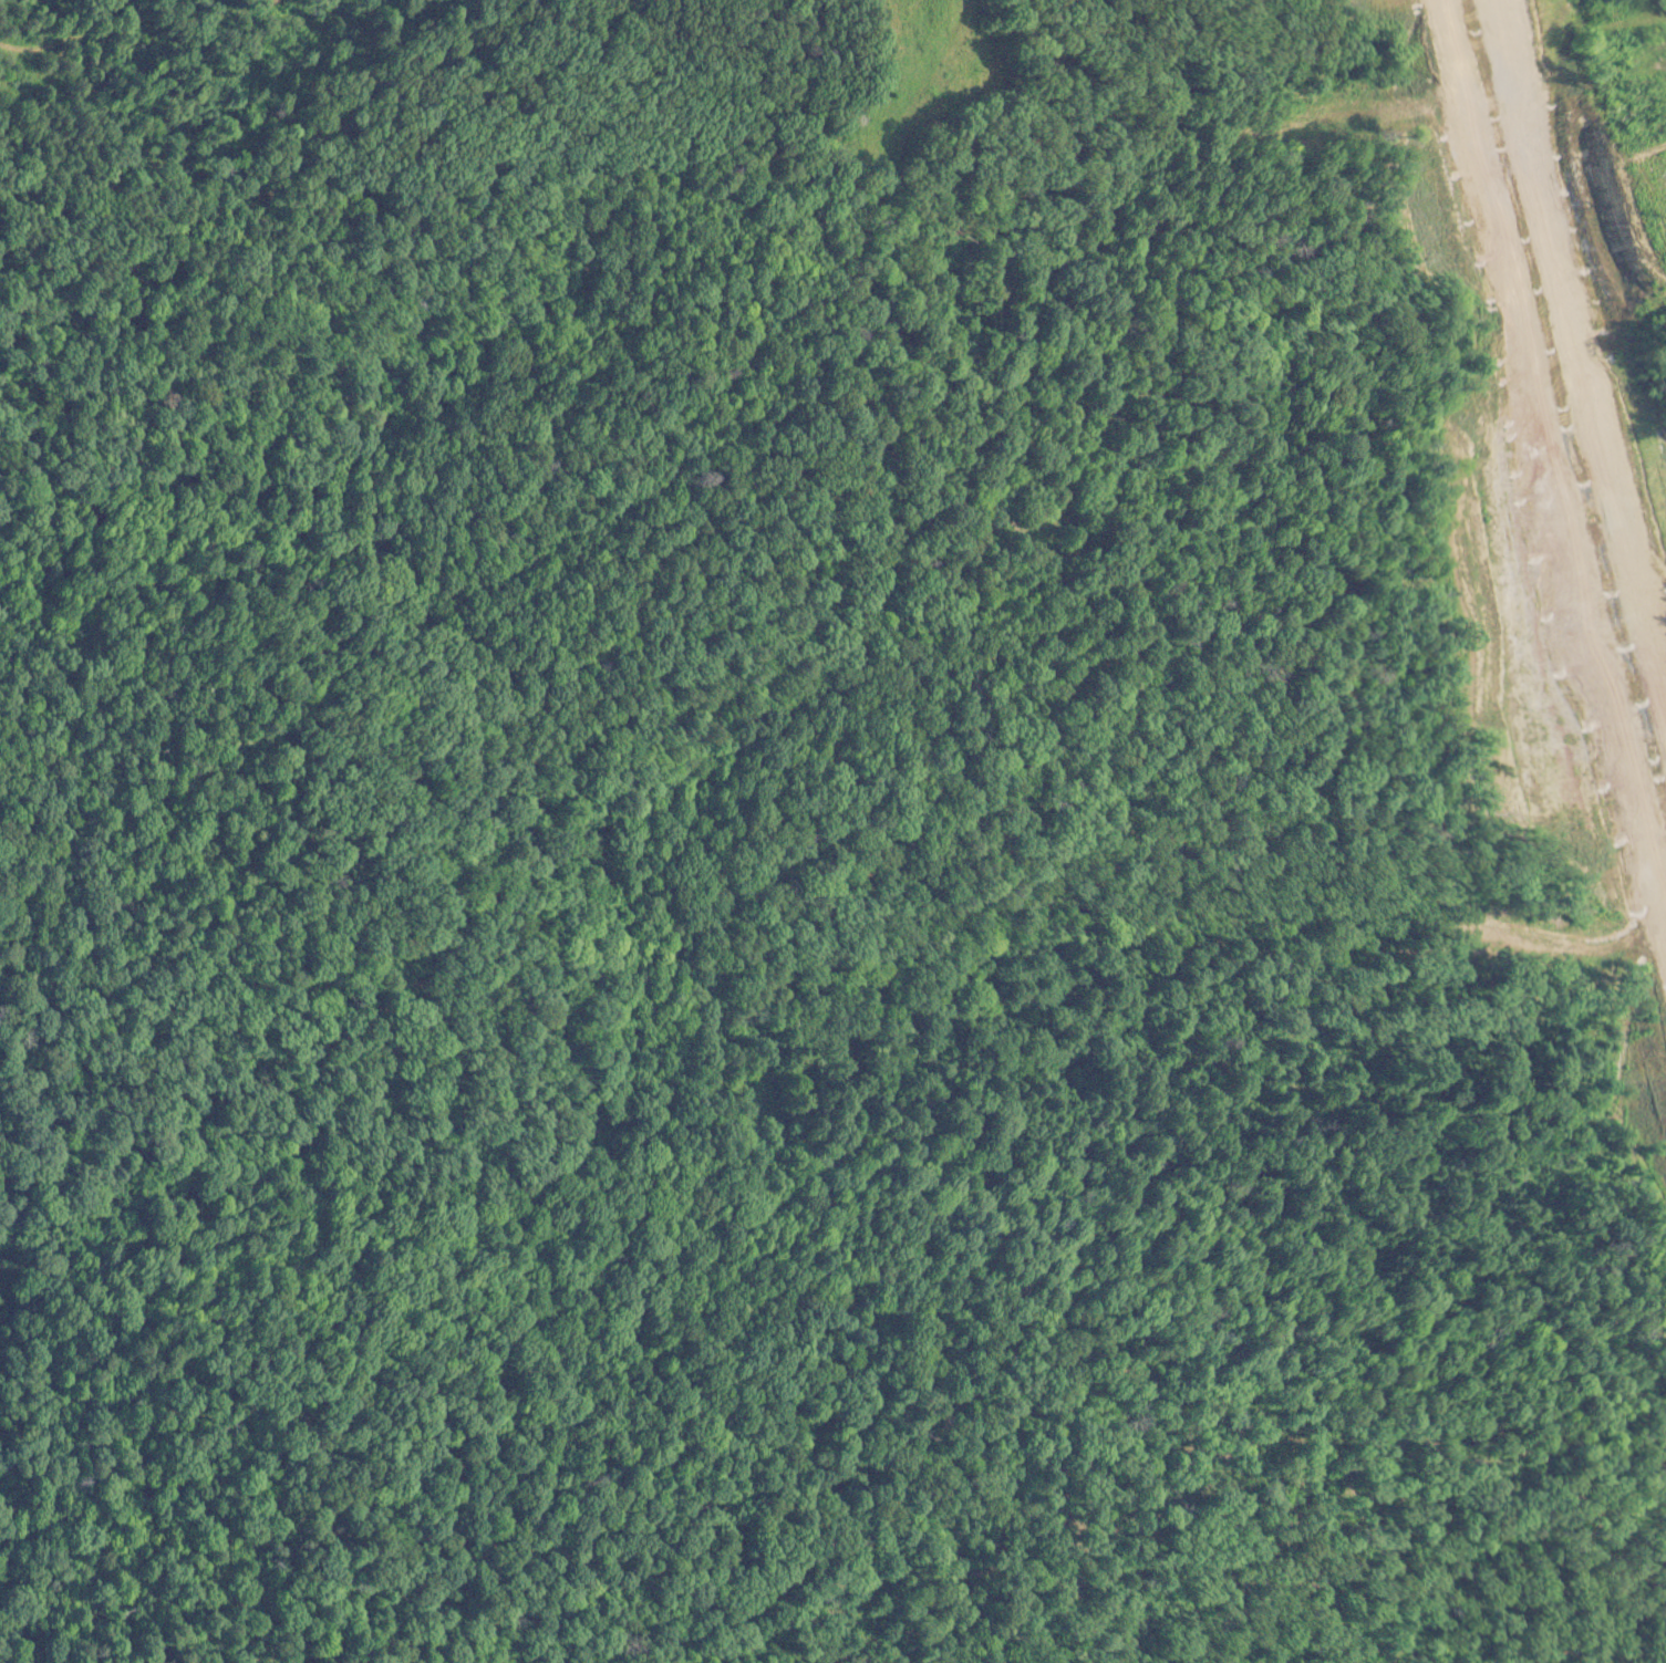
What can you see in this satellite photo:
road: (1579, 343)
road: (1551, 464)

